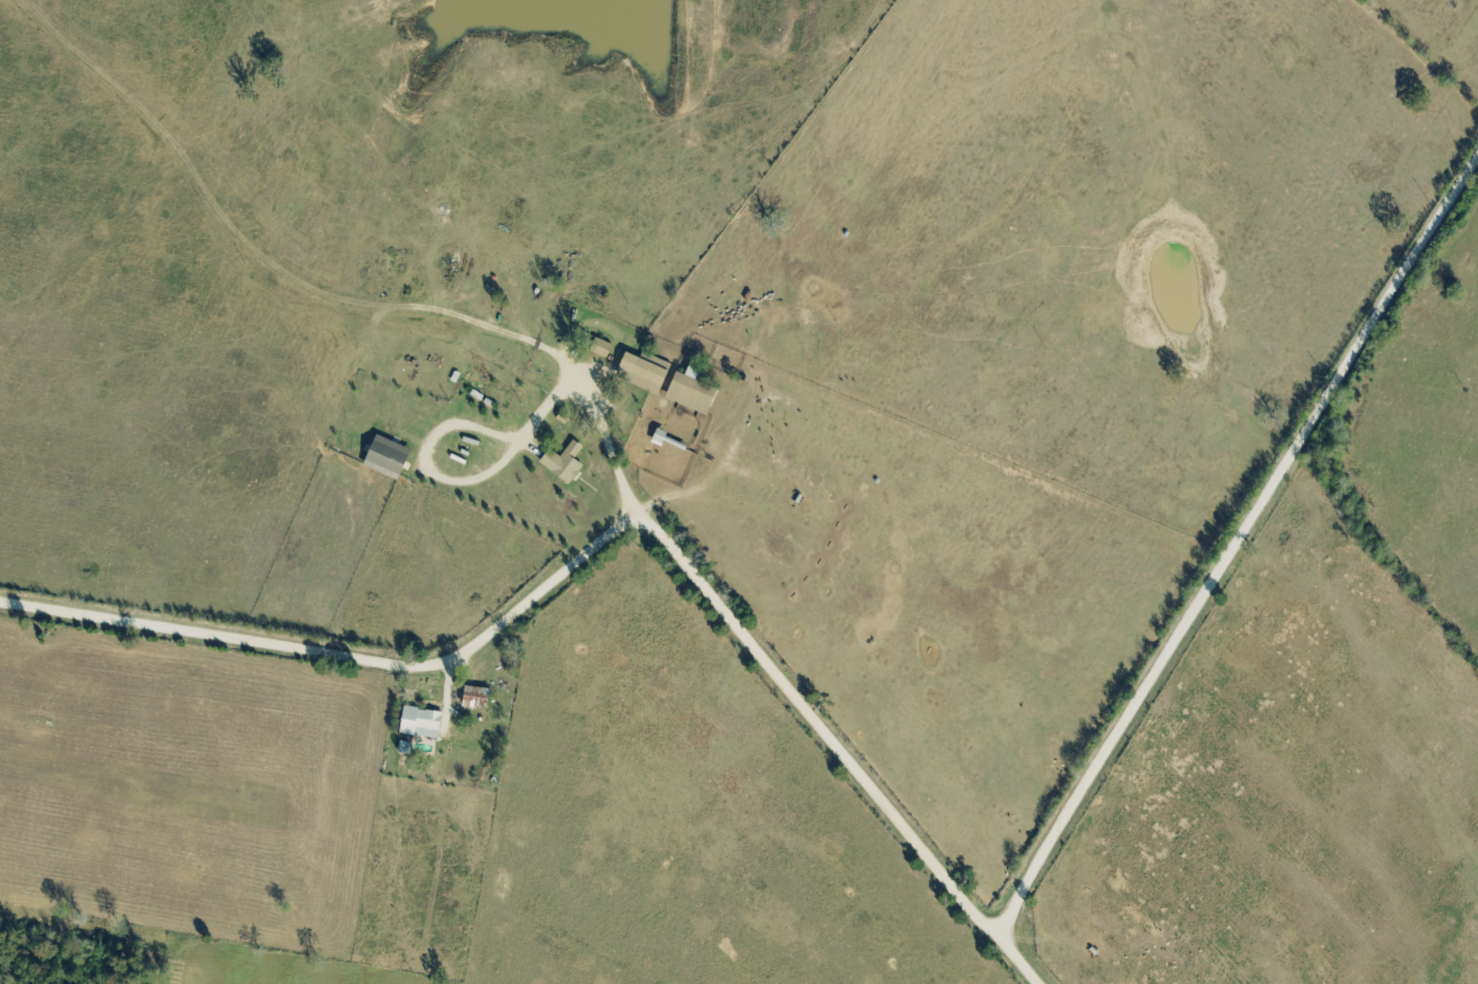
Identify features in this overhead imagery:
building: (604, 349)
building: (647, 374)
building: (664, 439)
building: (393, 460)
building: (568, 464)
road: (608, 531)
road: (1236, 544)
building: (482, 700)
building: (425, 724)

